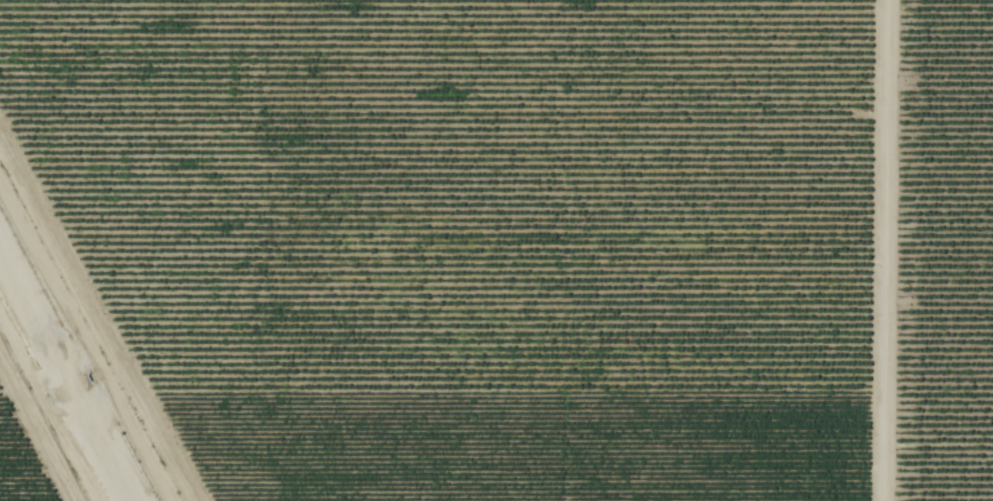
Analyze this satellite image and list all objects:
crop: (469, 238)
road: (880, 250)
crop: (943, 252)
railway: (63, 381)
railway: (58, 391)
crop: (15, 471)

